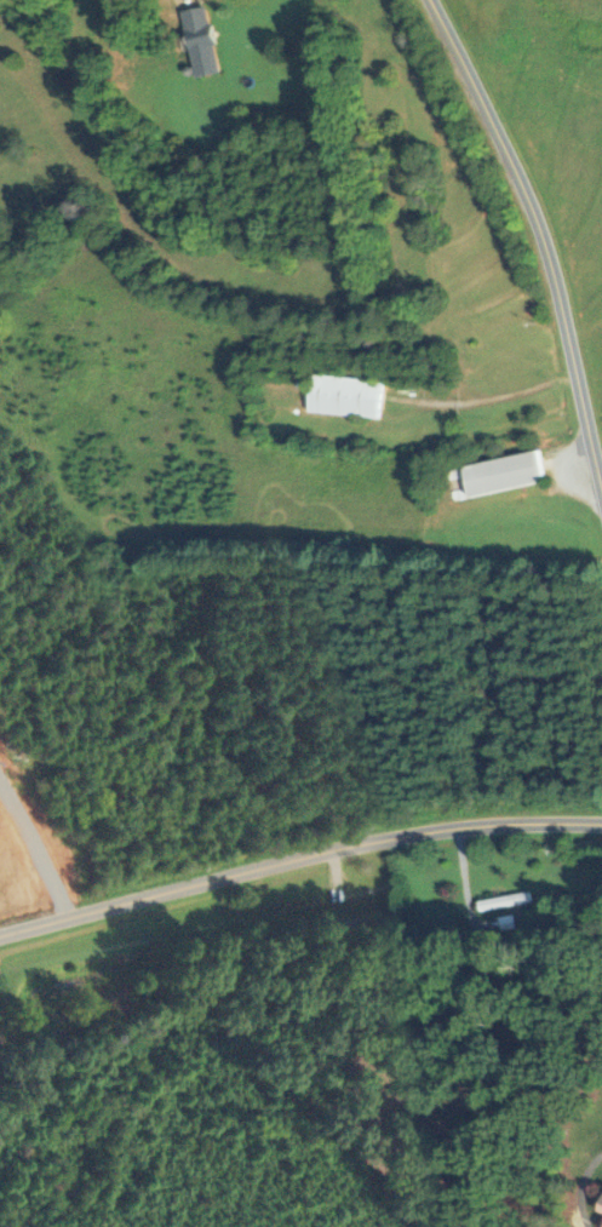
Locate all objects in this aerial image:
building: (196, 40)
road: (537, 242)
building: (343, 395)
road: (481, 400)
building: (499, 472)
road: (297, 858)
building: (499, 901)
building: (338, 927)
road: (577, 1186)
building: (600, 1220)

